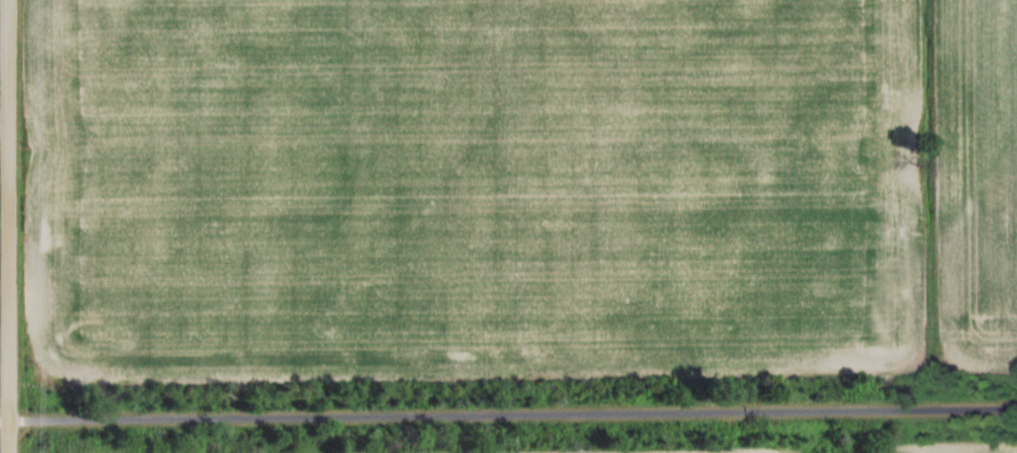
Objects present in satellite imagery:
road: (14, 226)
road: (516, 407)
road: (7, 414)

